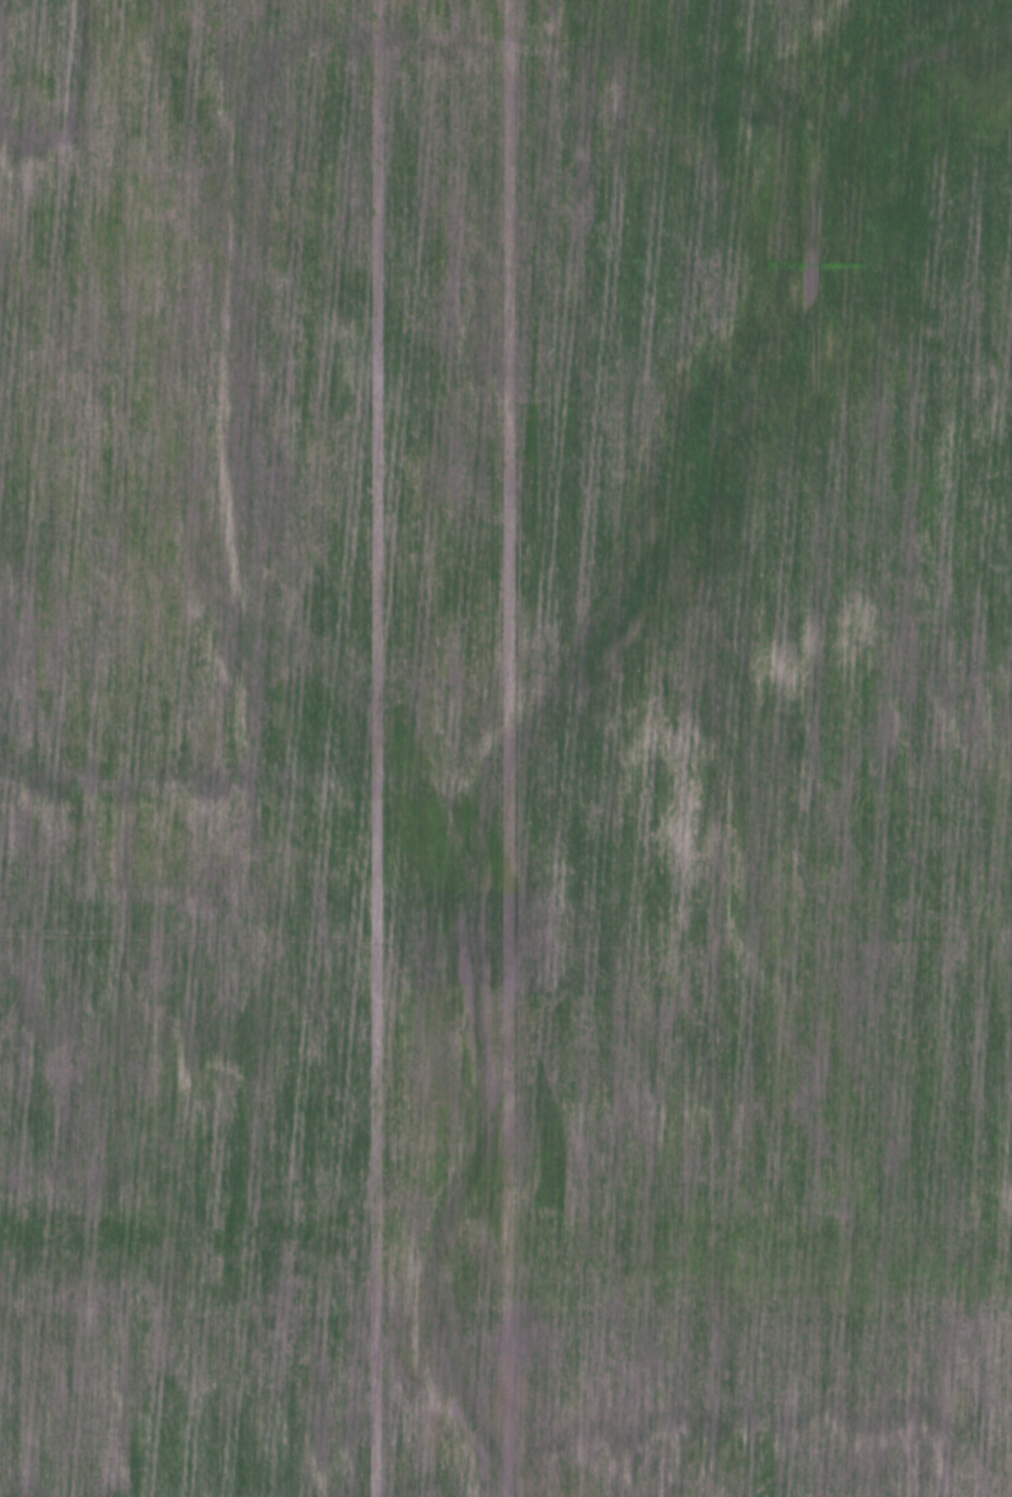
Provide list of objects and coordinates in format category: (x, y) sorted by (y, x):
crop: (506, 645)
crop: (501, 1393)

